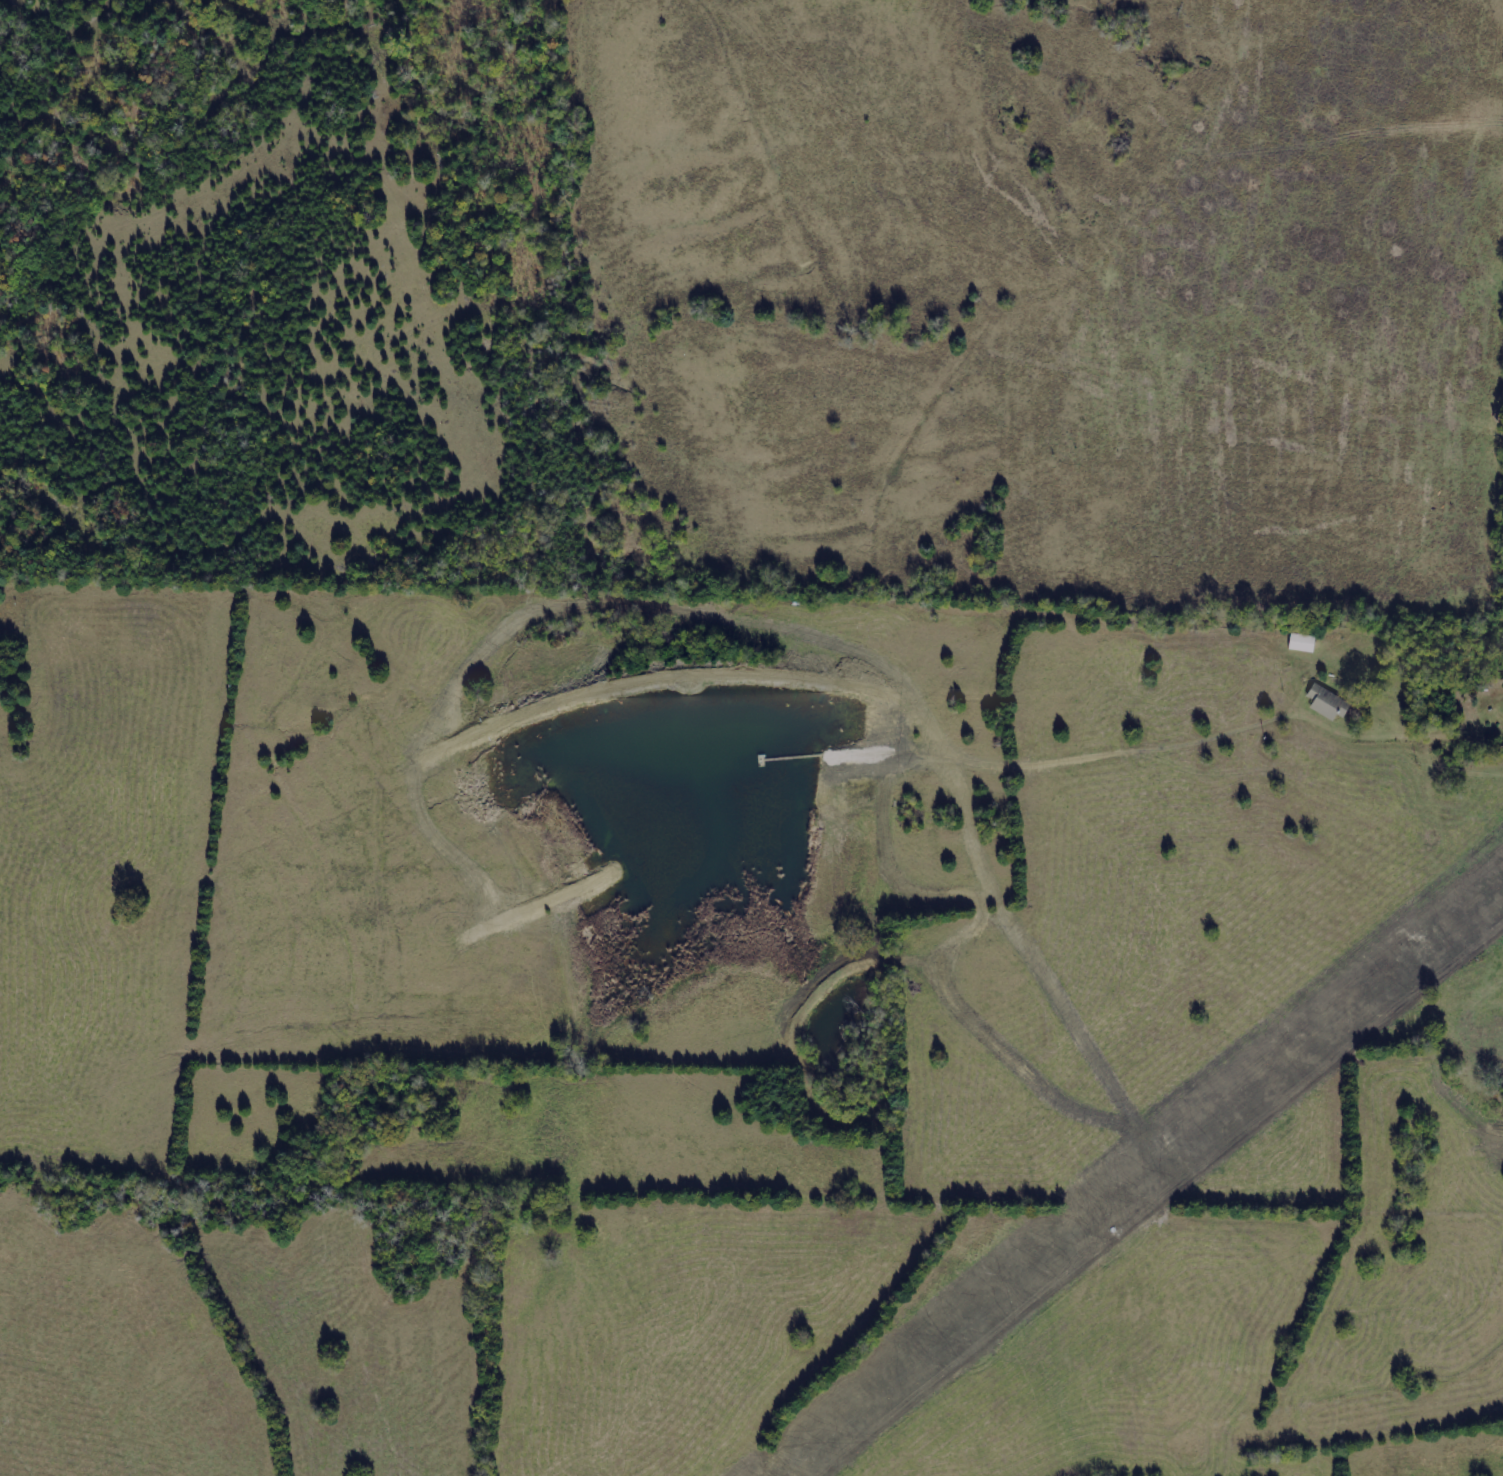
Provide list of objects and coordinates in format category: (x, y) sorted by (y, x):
building: (1304, 642)
building: (1329, 702)

